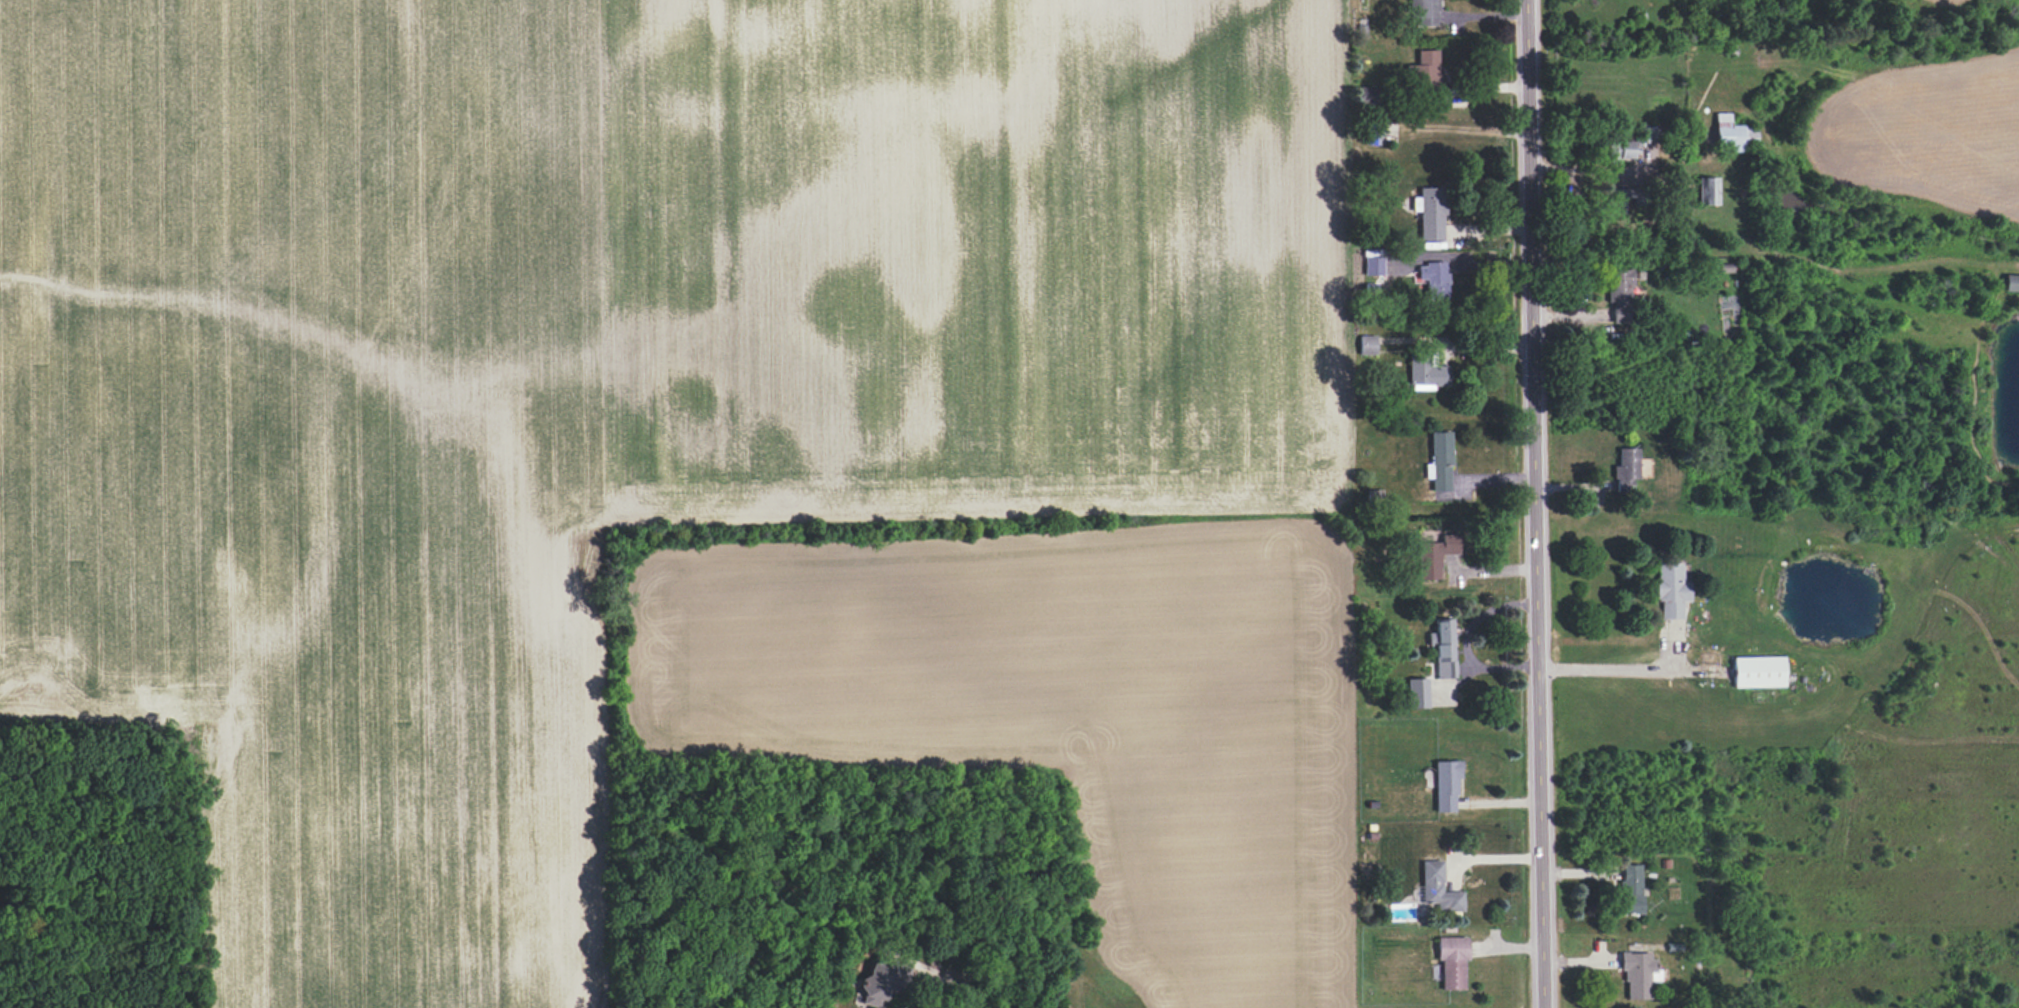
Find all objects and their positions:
building: (1425, 13)
building: (1428, 67)
building: (1367, 95)
building: (1748, 131)
building: (1374, 133)
building: (1649, 135)
building: (1620, 150)
building: (1708, 191)
building: (1622, 198)
building: (1430, 213)
building: (1374, 266)
building: (1434, 280)
building: (2011, 283)
building: (1619, 294)
building: (1367, 345)
road: (1456, 347)
building: (1427, 373)
building: (1440, 461)
road: (1534, 503)
building: (1434, 556)
building: (1671, 590)
road: (1466, 643)
building: (1443, 648)
road: (1623, 669)
building: (1757, 672)
building: (1417, 693)
building: (1446, 784)
building: (1438, 889)
building: (1629, 889)
building: (1452, 962)
building: (1638, 975)
road: (989, 978)
building: (883, 980)

